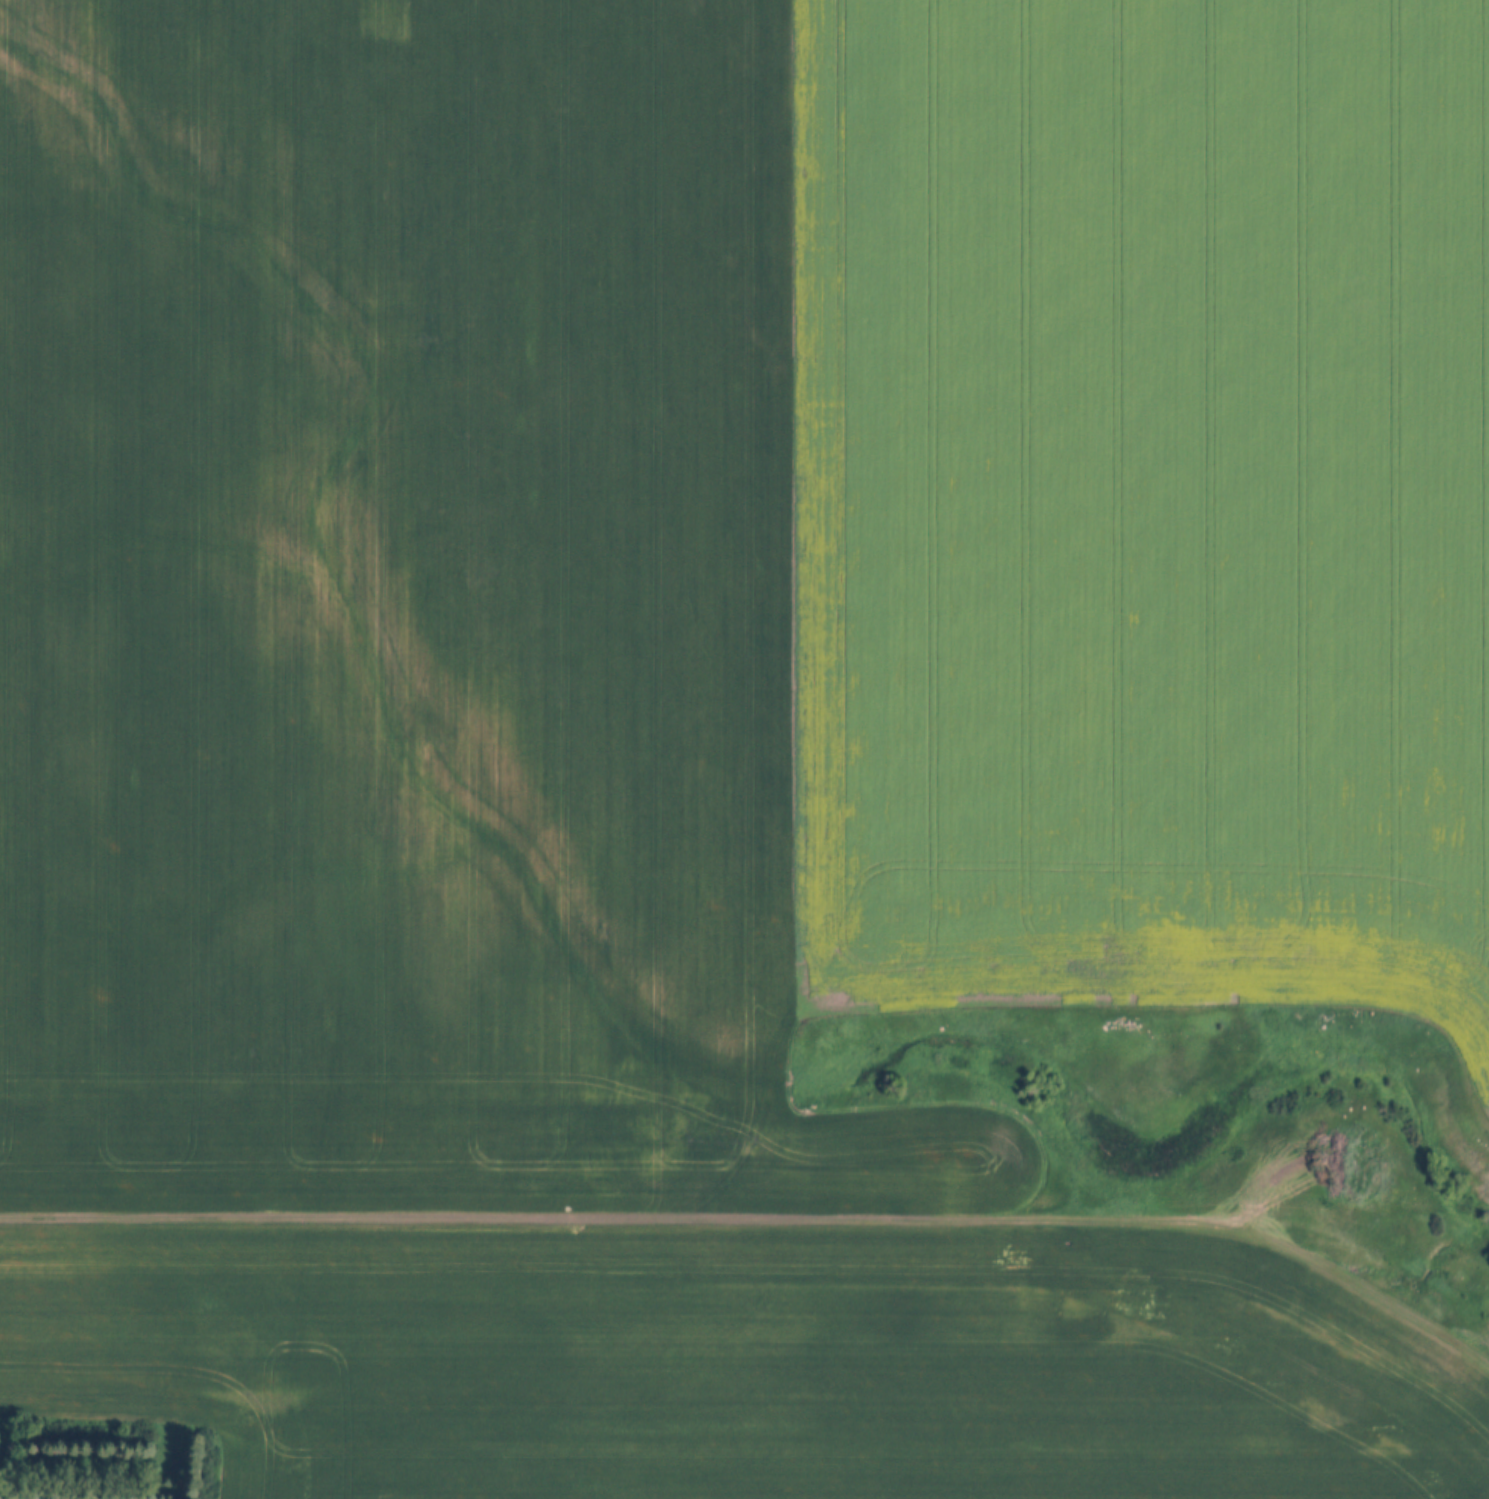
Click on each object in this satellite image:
road: (761, 1210)

